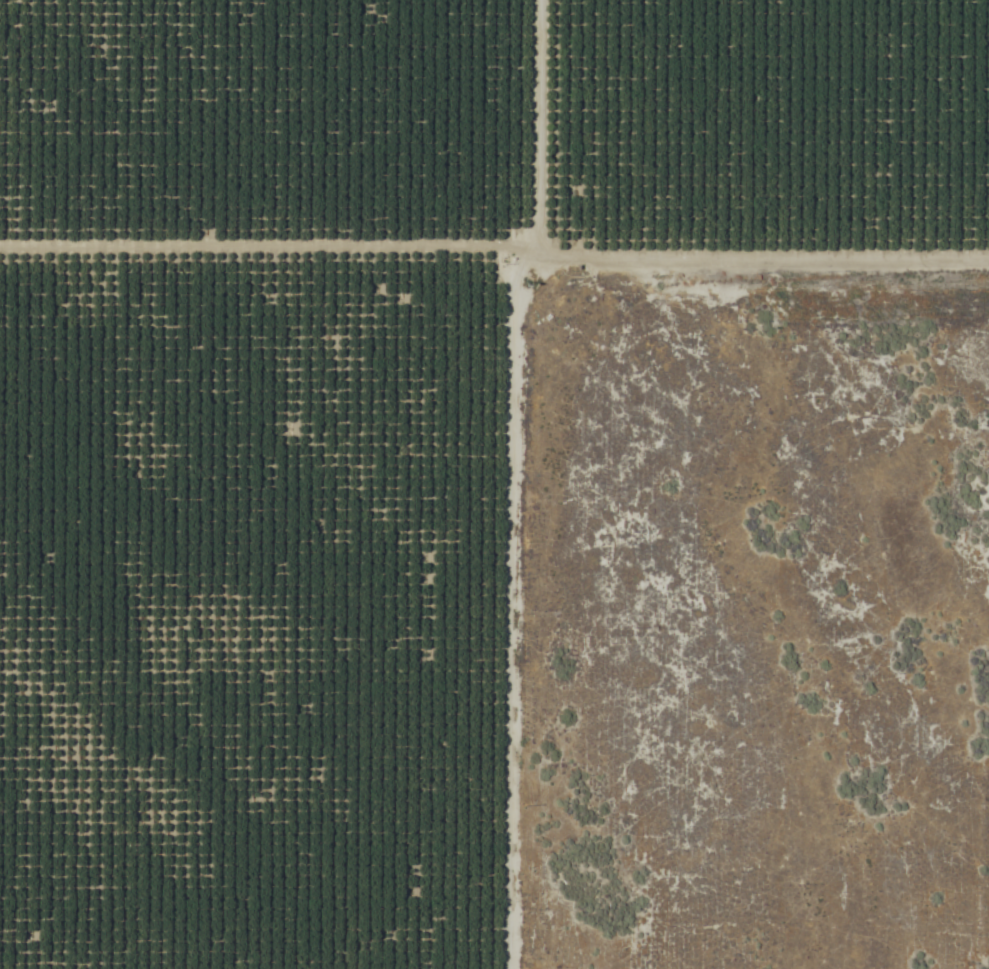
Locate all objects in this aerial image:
road: (495, 247)
road: (506, 483)

